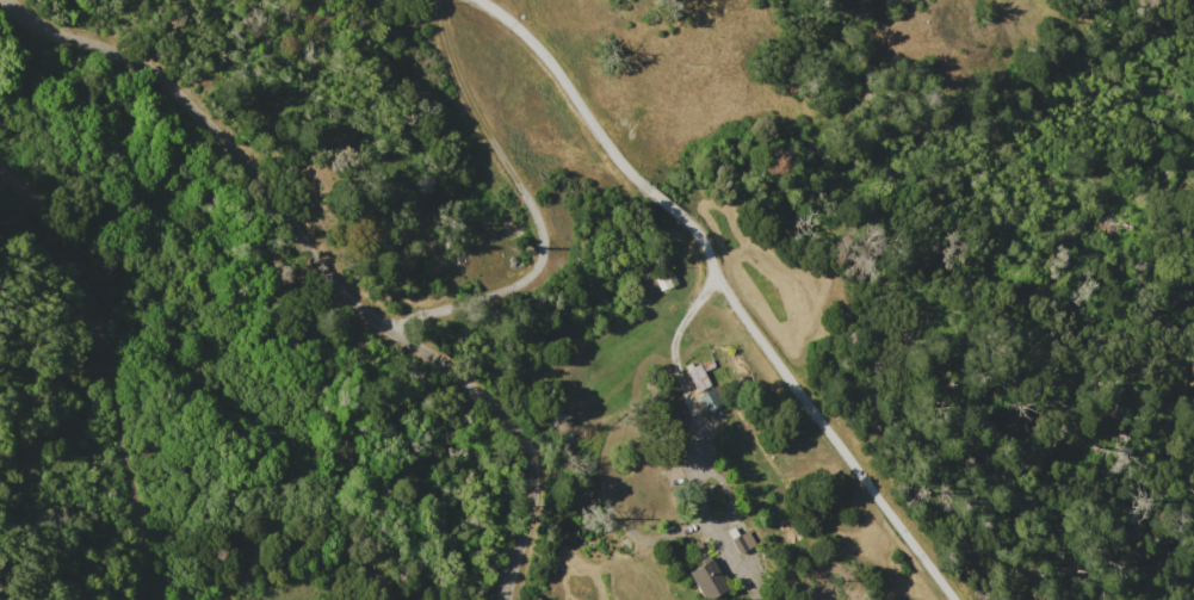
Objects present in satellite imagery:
road: (533, 204)
road: (324, 268)
road: (713, 271)
building: (663, 277)
road: (115, 370)
building: (697, 376)
building: (711, 396)
road: (834, 438)
road: (663, 537)
building: (742, 540)
building: (706, 579)

